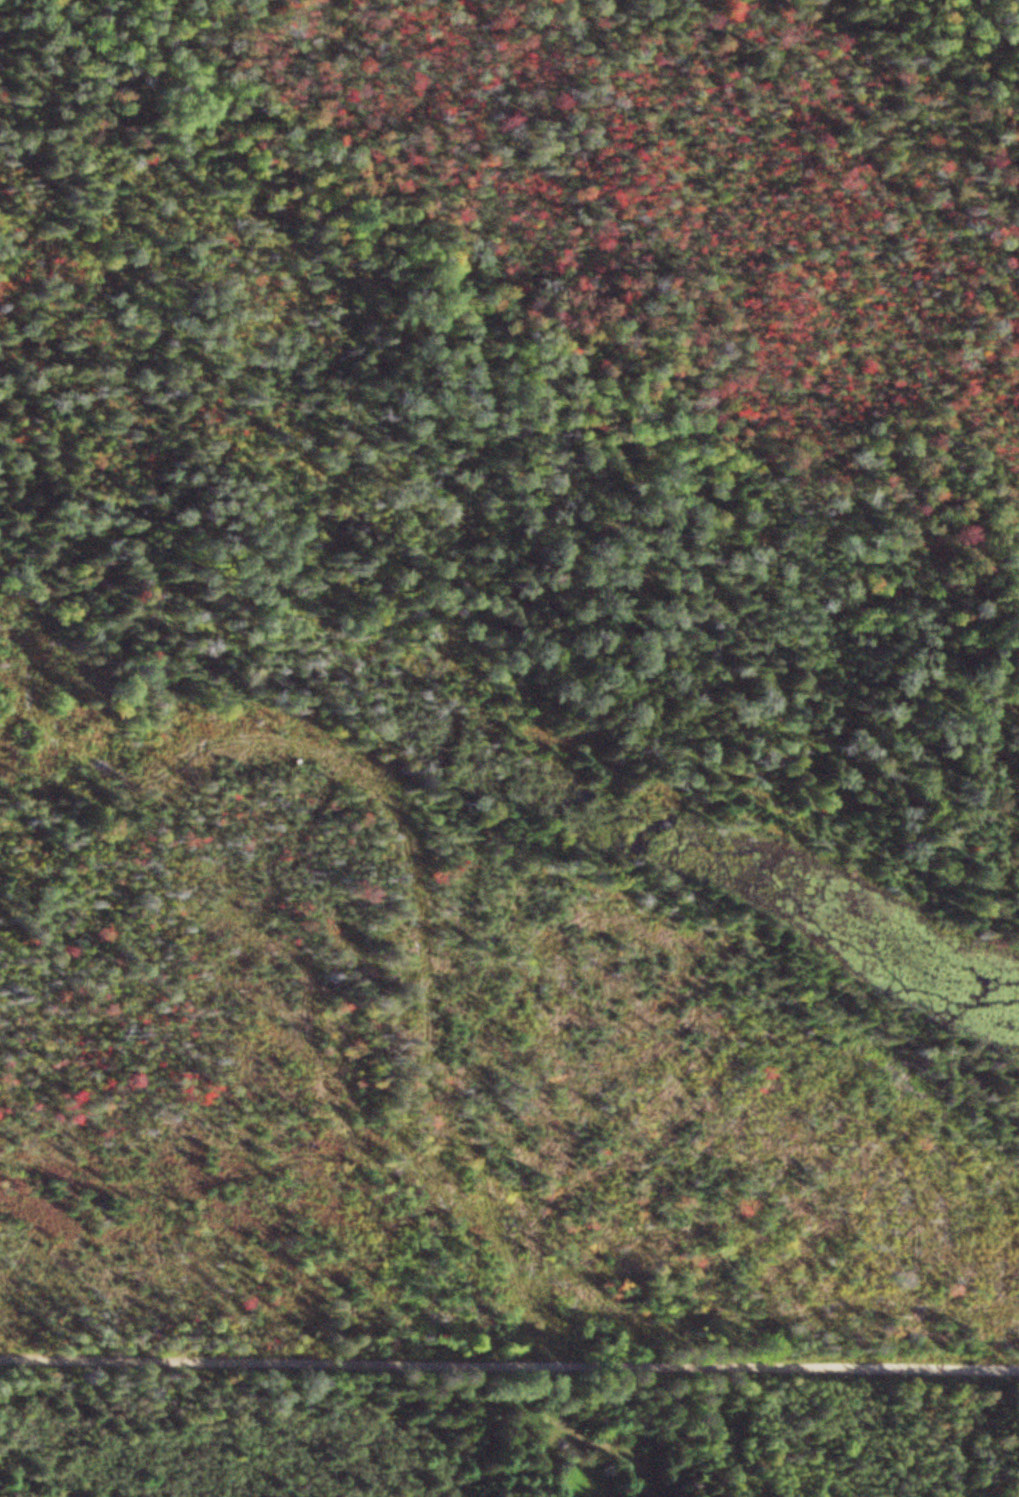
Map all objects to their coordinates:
road: (509, 1361)

